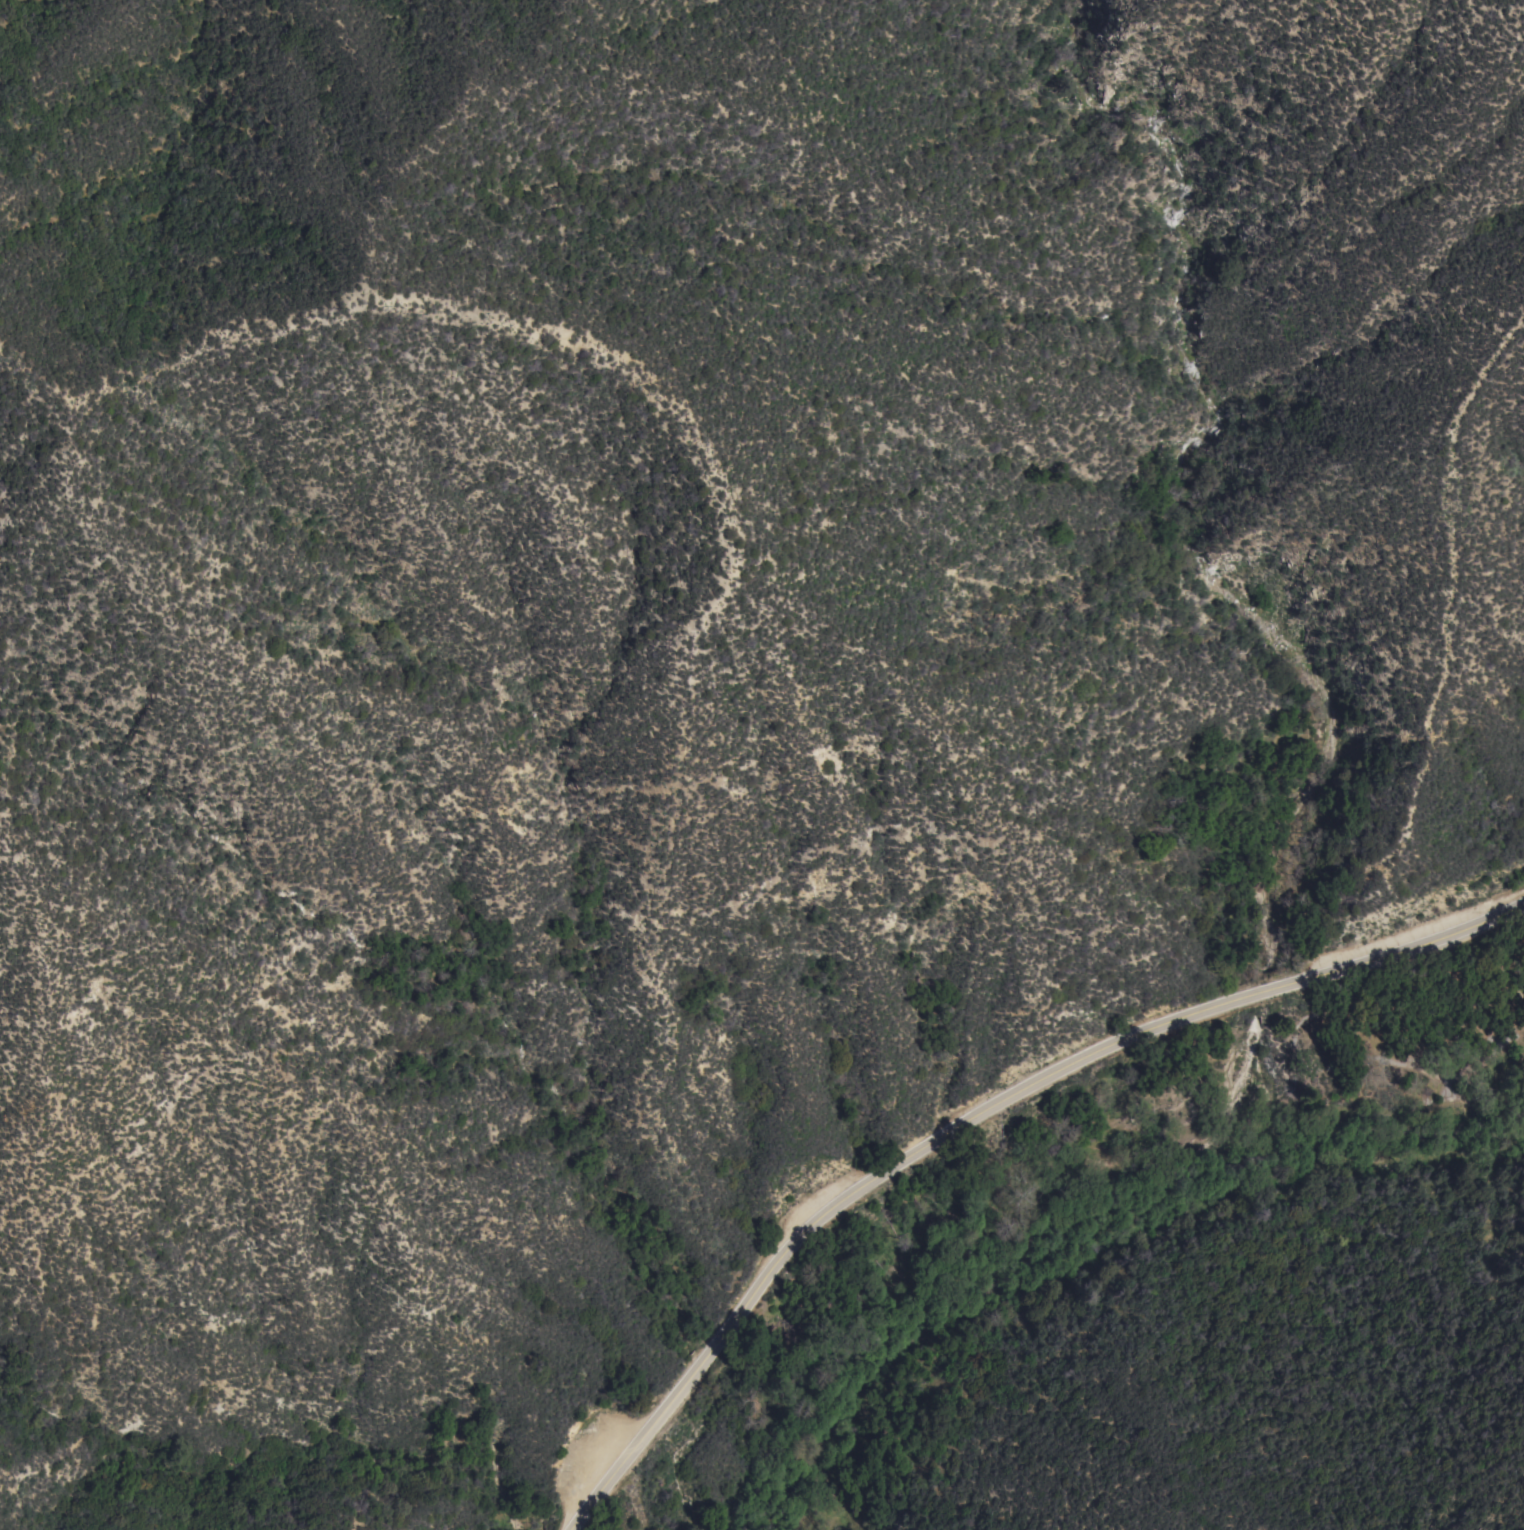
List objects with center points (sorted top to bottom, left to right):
road: (978, 1114)

